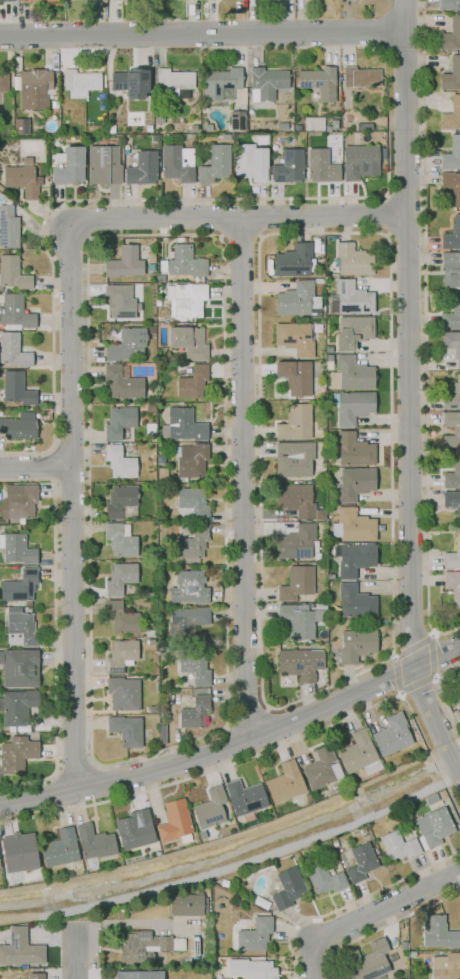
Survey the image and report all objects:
building: (34, 0)
building: (6, 1)
building: (448, 4)
road: (402, 16)
road: (201, 34)
building: (451, 35)
road: (264, 47)
road: (237, 50)
road: (328, 50)
building: (451, 74)
building: (360, 77)
building: (130, 80)
building: (317, 80)
building: (80, 81)
building: (3, 82)
building: (174, 83)
building: (266, 83)
building: (221, 84)
building: (35, 89)
building: (0, 100)
building: (101, 102)
building: (54, 107)
building: (450, 113)
building: (63, 117)
building: (136, 118)
building: (158, 118)
building: (237, 121)
building: (312, 123)
building: (332, 124)
building: (21, 126)
building: (347, 126)
building: (365, 127)
building: (148, 128)
building: (110, 129)
building: (355, 135)
building: (452, 154)
building: (359, 160)
building: (177, 163)
building: (248, 163)
building: (215, 164)
building: (103, 165)
building: (68, 166)
building: (321, 166)
building: (288, 167)
building: (142, 168)
building: (22, 179)
building: (451, 187)
building: (1, 188)
road: (100, 200)
road: (388, 214)
road: (237, 218)
building: (8, 228)
building: (452, 235)
road: (239, 237)
building: (351, 260)
building: (185, 261)
building: (294, 261)
building: (123, 263)
building: (452, 267)
building: (12, 272)
building: (160, 278)
building: (352, 298)
building: (186, 299)
building: (298, 301)
building: (117, 302)
building: (15, 313)
building: (452, 315)
road: (424, 330)
building: (353, 331)
building: (294, 338)
building: (189, 342)
building: (452, 344)
building: (126, 345)
building: (13, 351)
building: (350, 374)
building: (295, 377)
building: (122, 382)
building: (192, 382)
building: (17, 389)
building: (452, 395)
building: (352, 406)
road: (408, 410)
building: (47, 415)
building: (118, 422)
building: (295, 423)
building: (182, 426)
building: (18, 427)
building: (456, 431)
building: (354, 450)
building: (293, 459)
building: (190, 460)
building: (119, 462)
road: (50, 464)
road: (35, 468)
building: (161, 474)
building: (452, 475)
road: (243, 479)
building: (354, 483)
building: (295, 500)
building: (20, 502)
building: (120, 502)
building: (452, 502)
road: (71, 504)
building: (191, 504)
building: (352, 526)
building: (120, 539)
building: (190, 543)
building: (298, 544)
building: (17, 549)
building: (453, 556)
building: (353, 558)
building: (120, 577)
building: (296, 583)
building: (21, 585)
building: (453, 586)
building: (186, 589)
building: (355, 602)
building: (15, 609)
building: (121, 618)
building: (299, 620)
building: (186, 623)
road: (56, 627)
building: (22, 629)
road: (430, 632)
building: (149, 633)
building: (356, 646)
road: (431, 653)
building: (121, 655)
building: (299, 664)
building: (24, 666)
building: (195, 668)
road: (364, 669)
road: (435, 677)
building: (124, 693)
road: (441, 695)
building: (18, 707)
building: (152, 708)
building: (456, 711)
building: (194, 713)
building: (127, 730)
road: (205, 734)
building: (180, 735)
building: (392, 735)
road: (236, 744)
road: (267, 749)
building: (17, 752)
building: (359, 754)
road: (75, 768)
building: (322, 768)
building: (285, 784)
building: (442, 794)
building: (246, 797)
building: (431, 799)
building: (211, 808)
building: (176, 821)
building: (433, 827)
building: (138, 830)
building: (96, 842)
building: (398, 846)
building: (63, 850)
building: (18, 858)
building: (360, 862)
road: (236, 865)
building: (326, 880)
building: (225, 883)
building: (288, 888)
road: (352, 902)
building: (189, 904)
road: (385, 908)
building: (242, 917)
road: (383, 926)
building: (439, 933)
building: (255, 935)
building: (145, 945)
building: (21, 948)
building: (399, 948)
road: (75, 954)
building: (413, 954)
road: (311, 959)
building: (390, 960)
building: (371, 961)
building: (445, 966)
building: (252, 968)
building: (36, 975)
building: (134, 975)
building: (173, 975)
building: (222, 978)

